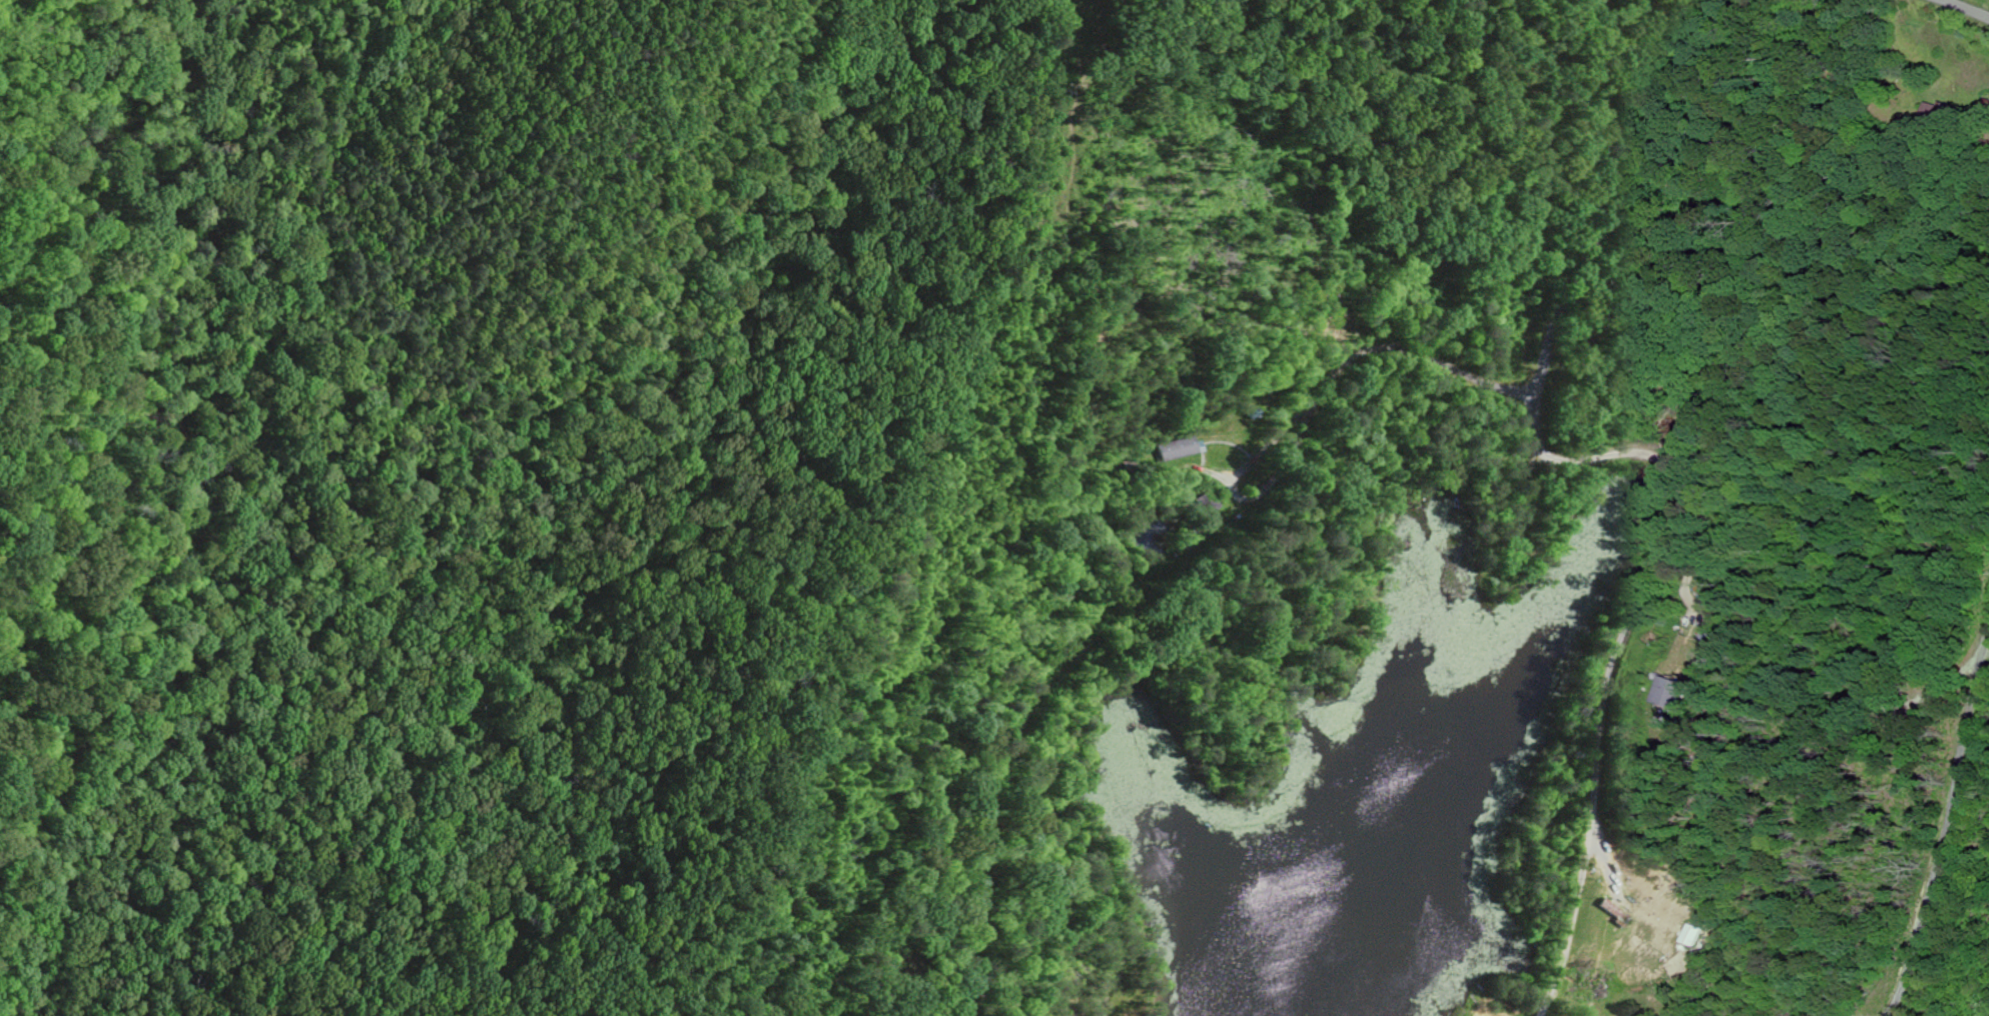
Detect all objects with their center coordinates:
road: (1966, 8)
road: (1603, 200)
road: (1370, 351)
building: (1179, 450)
road: (1618, 638)
building: (1667, 693)
road: (1946, 833)

